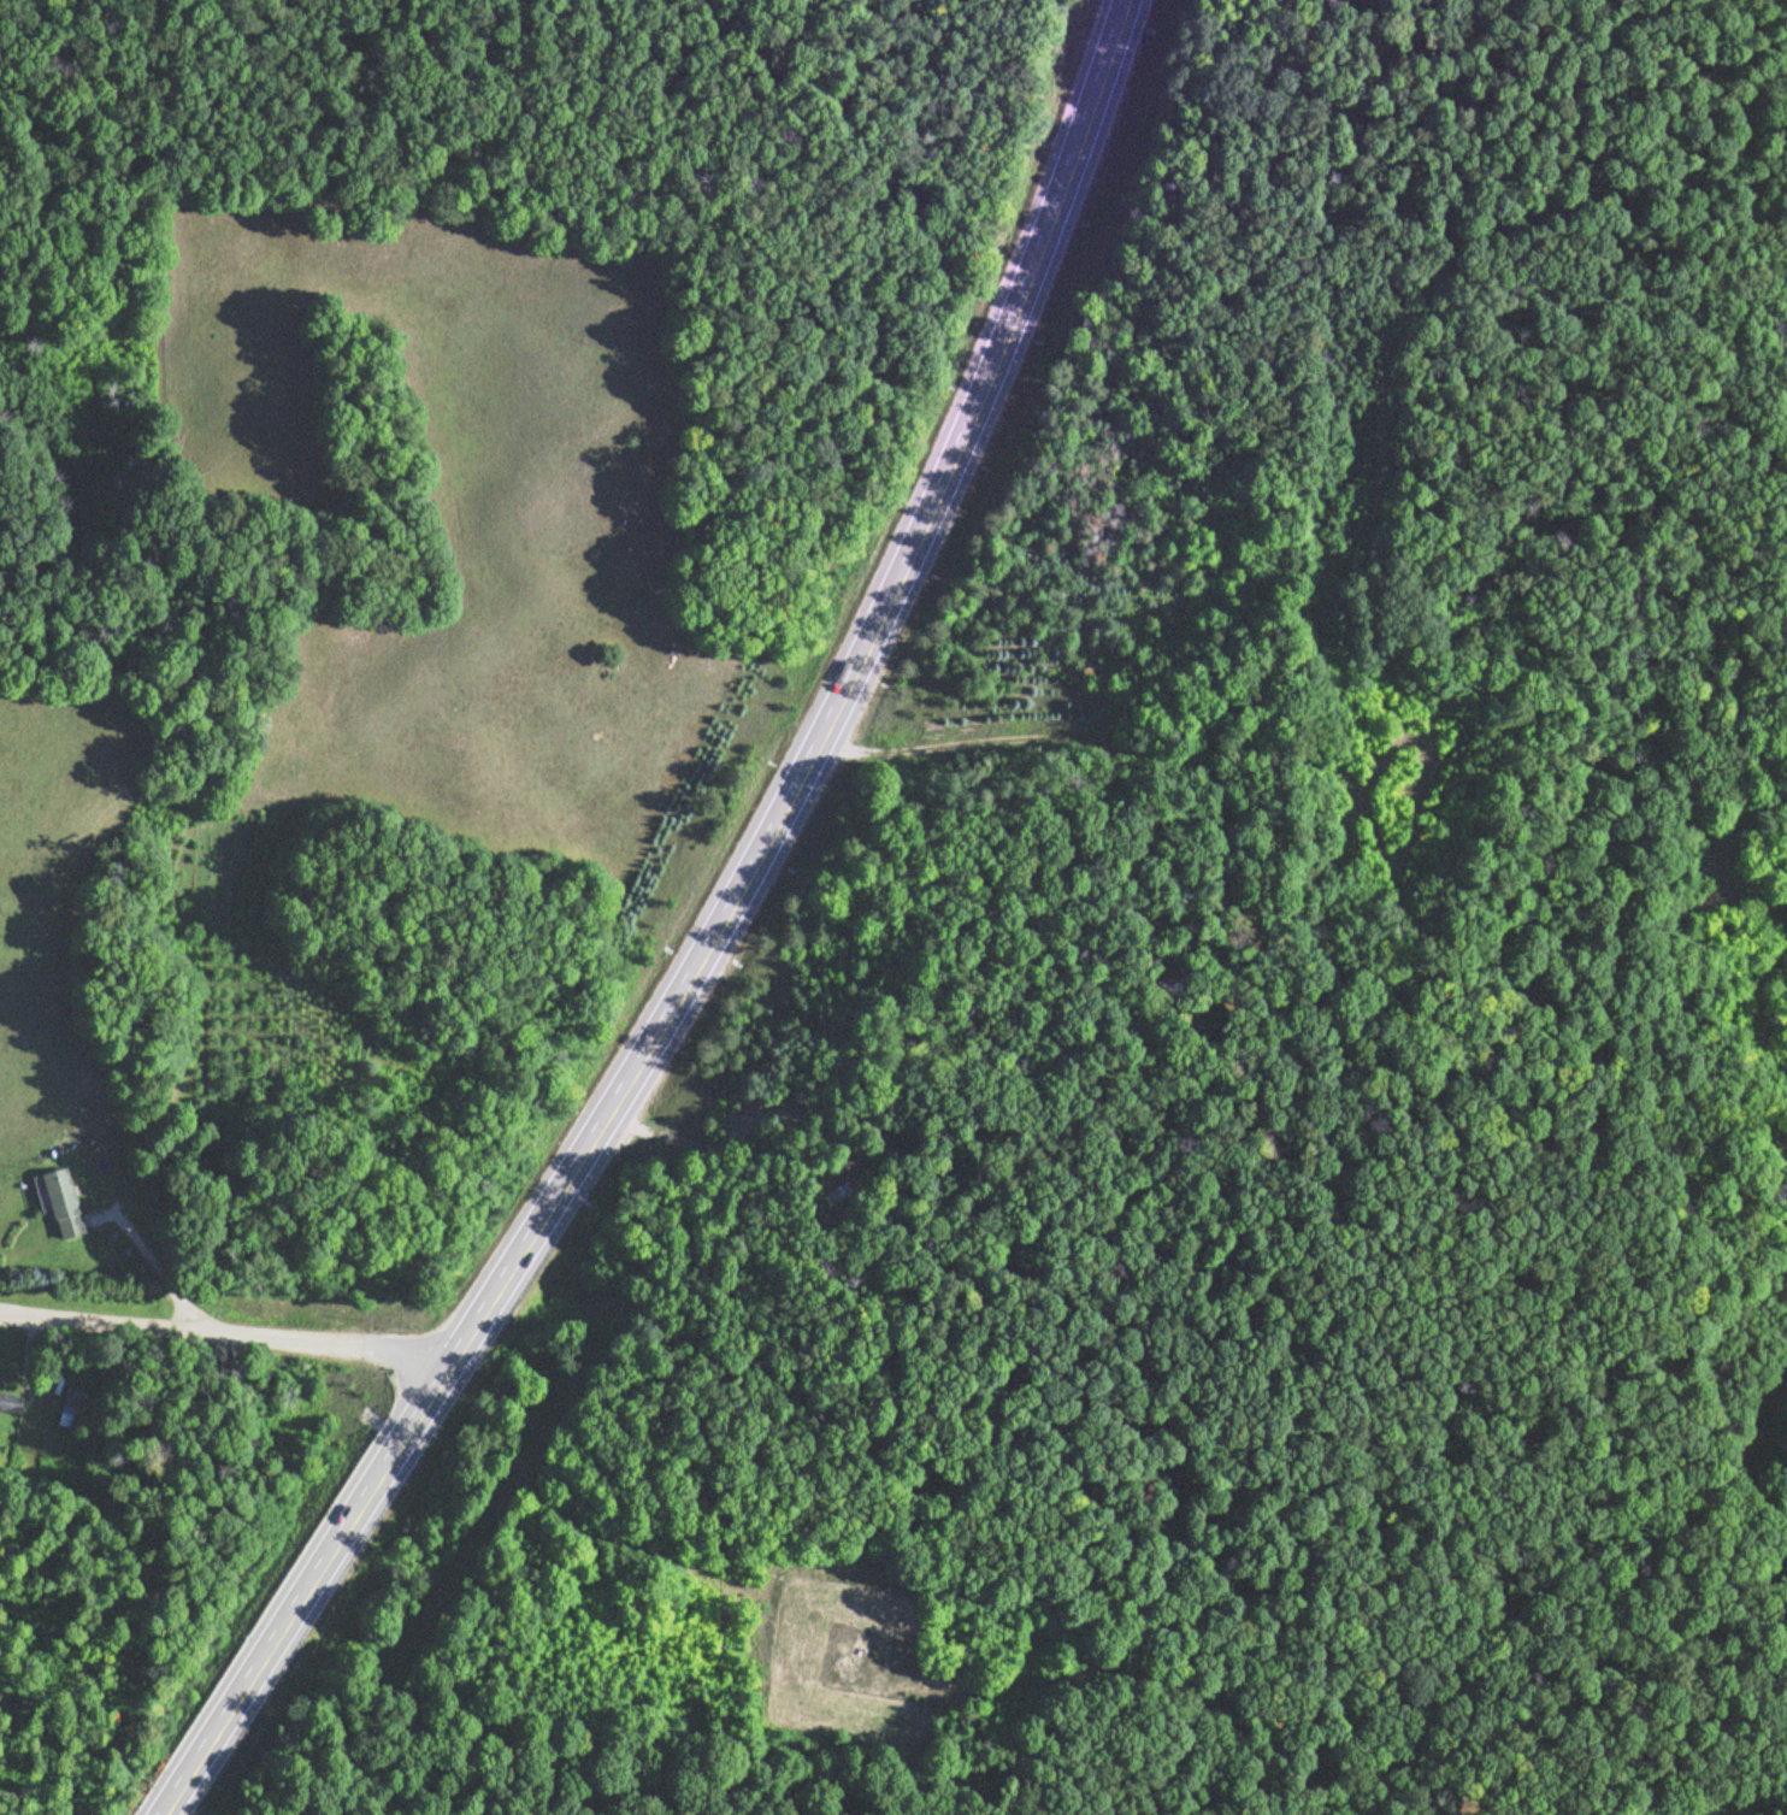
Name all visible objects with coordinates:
road: (698, 939)
building: (61, 1201)
road: (225, 1327)
building: (10, 1398)
building: (73, 1404)

